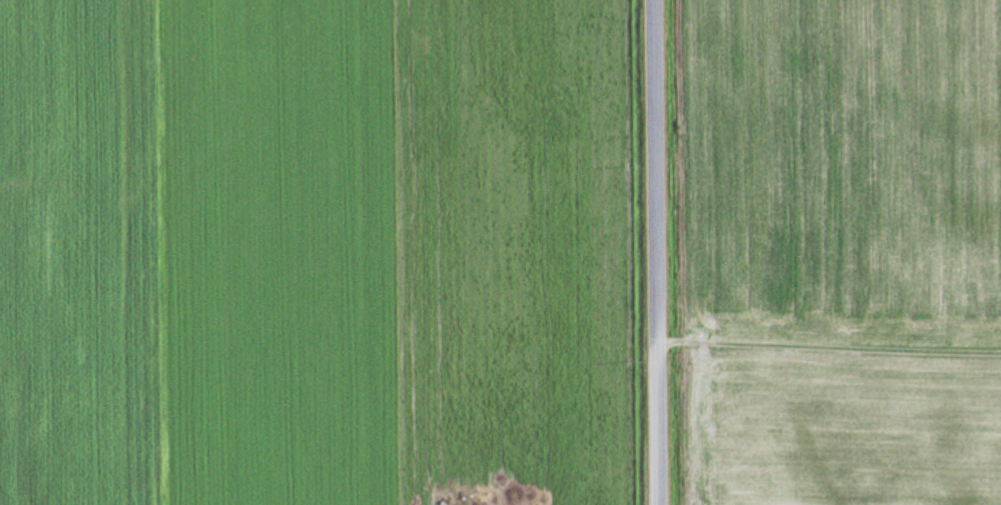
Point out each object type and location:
road: (657, 252)

